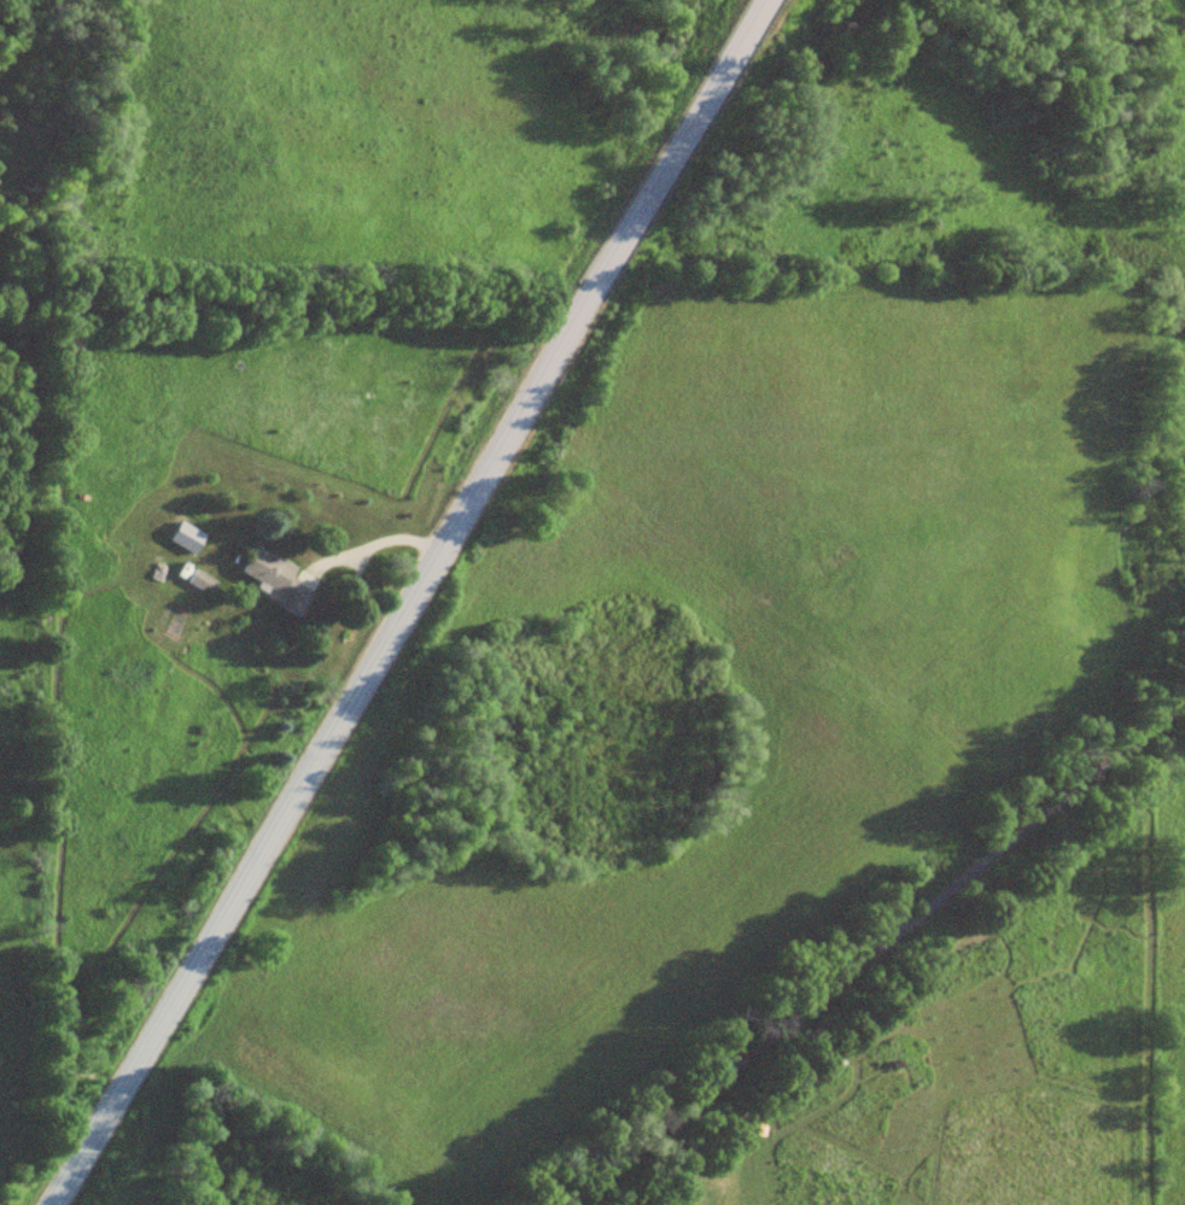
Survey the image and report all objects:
building: (279, 581)
road: (407, 602)
road: (874, 944)

